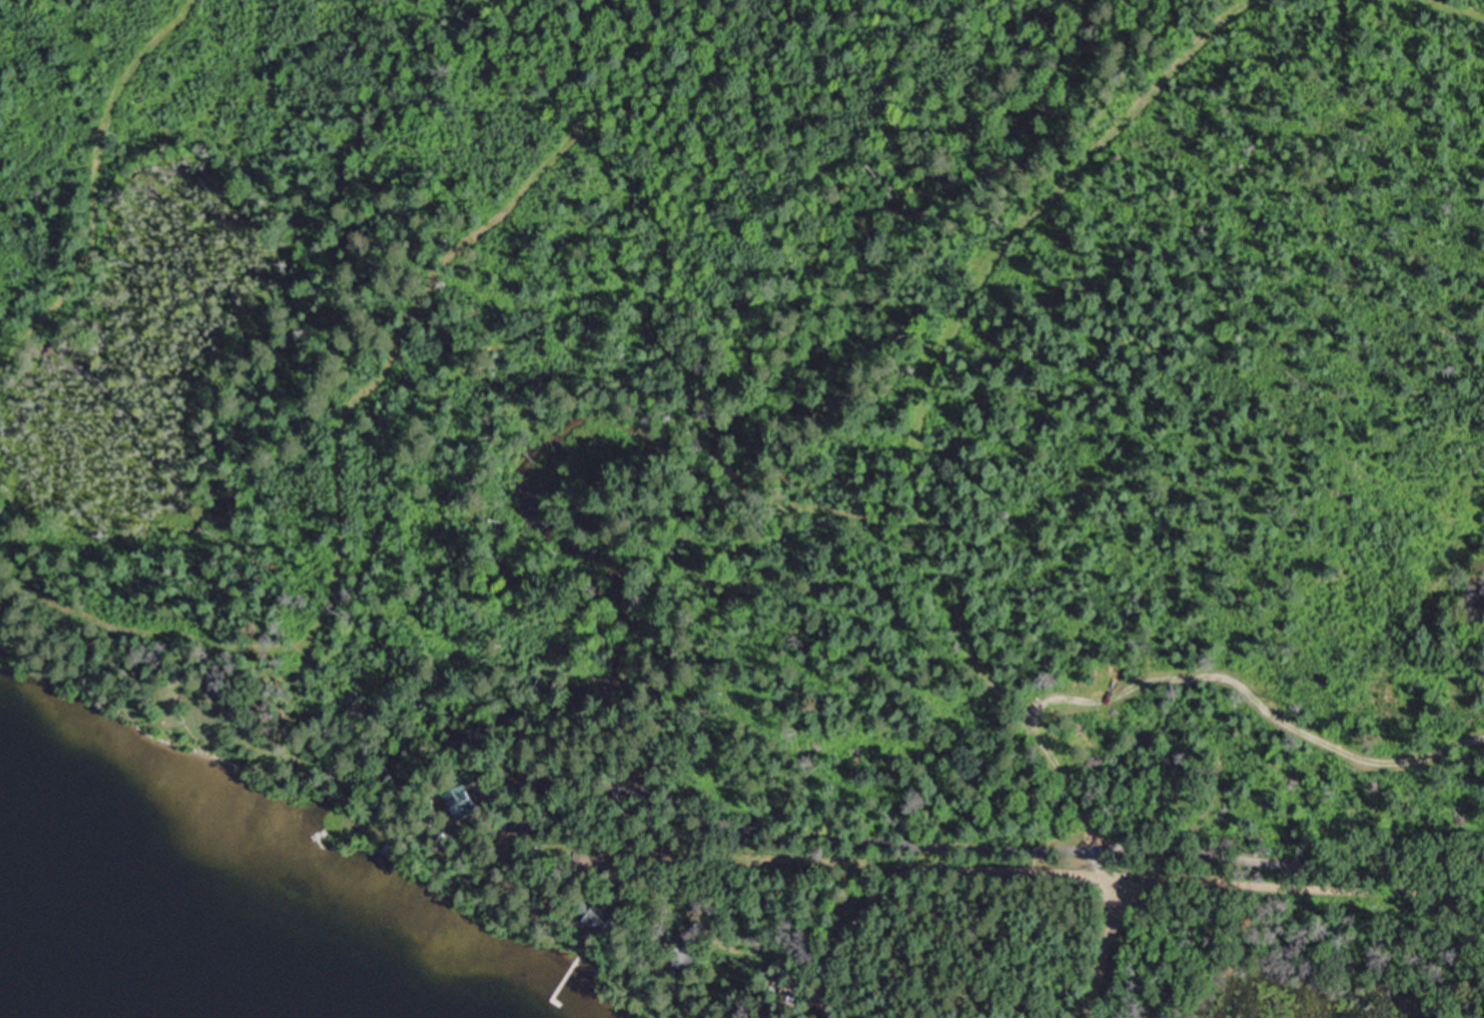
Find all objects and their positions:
building: (462, 803)
road: (1297, 836)
road: (934, 872)
building: (612, 925)
building: (684, 953)
road: (1101, 955)

